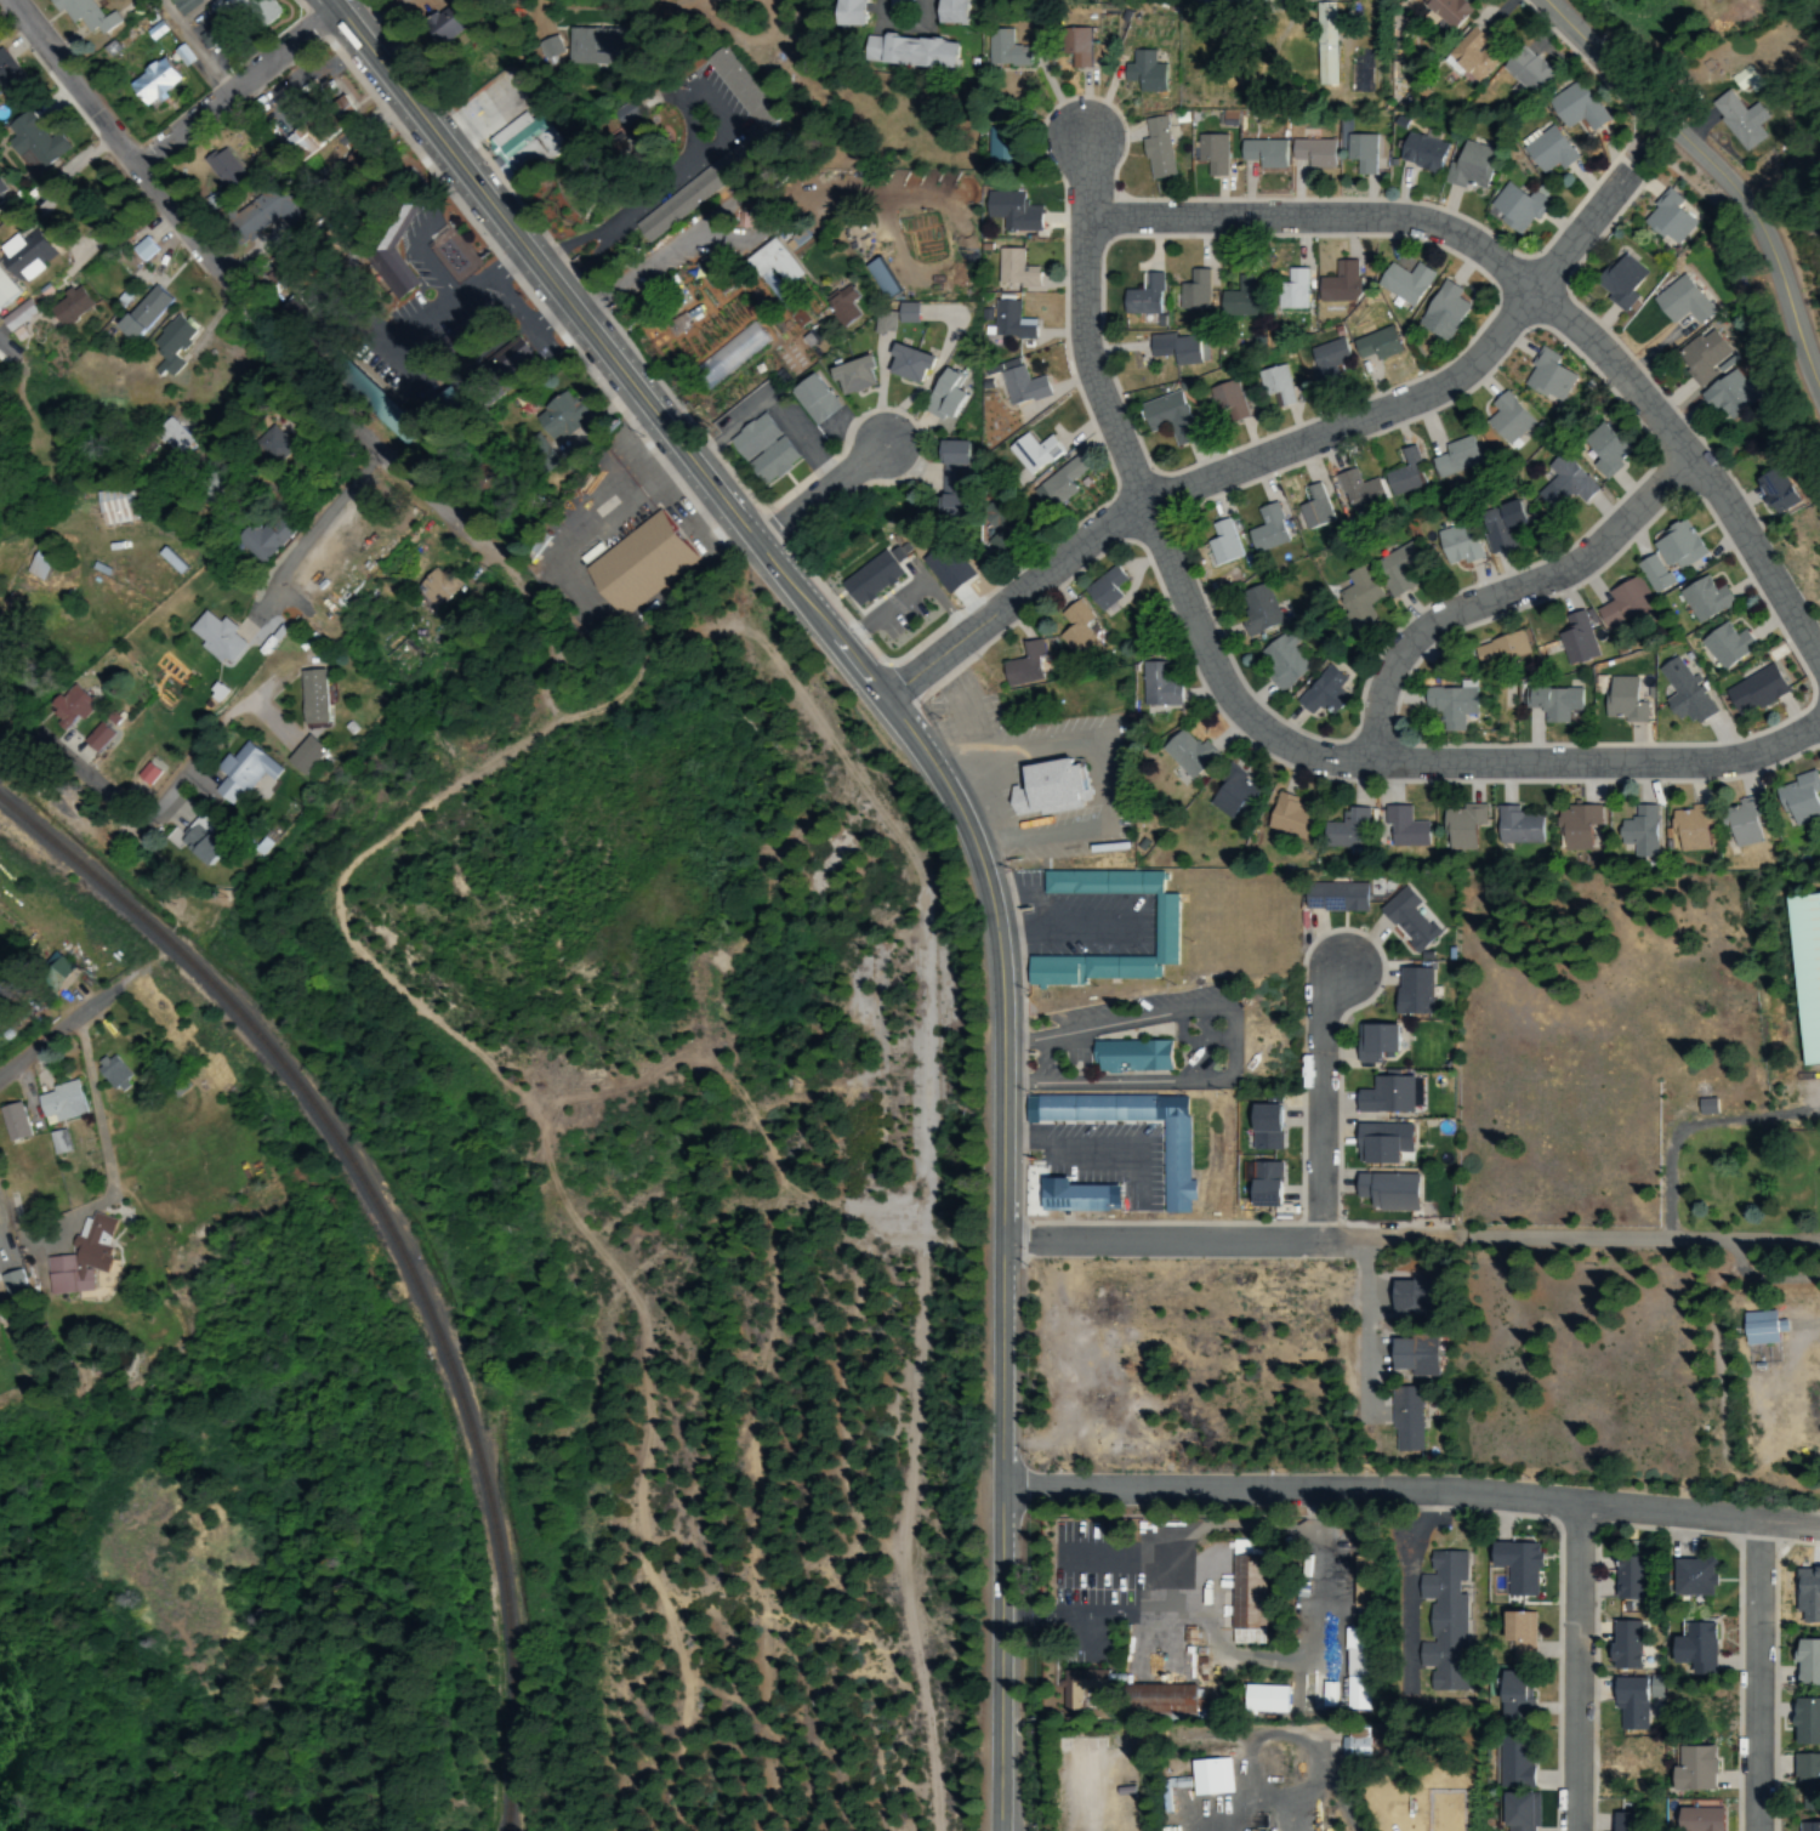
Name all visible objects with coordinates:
building: (1249, 1)
building: (180, 4)
building: (851, 6)
building: (897, 6)
building: (234, 8)
building: (1454, 11)
building: (956, 12)
building: (81, 16)
building: (442, 25)
building: (205, 36)
building: (551, 47)
building: (590, 47)
building: (1076, 49)
building: (1325, 50)
building: (1002, 51)
building: (910, 52)
building: (1474, 55)
building: (1142, 73)
building: (1526, 76)
building: (153, 81)
building: (11, 87)
road: (237, 90)
building: (341, 108)
building: (1575, 108)
building: (626, 114)
building: (1739, 119)
building: (306, 140)
building: (521, 144)
building: (33, 146)
building: (1154, 150)
building: (1547, 150)
building: (1359, 152)
building: (1261, 153)
building: (1313, 153)
building: (1423, 153)
building: (1208, 154)
building: (1473, 164)
building: (221, 171)
road: (1719, 174)
road: (1077, 177)
building: (703, 181)
building: (1, 194)
building: (1511, 207)
building: (1009, 210)
building: (255, 215)
building: (1662, 220)
building: (143, 249)
building: (24, 251)
building: (389, 256)
building: (1008, 268)
building: (767, 271)
building: (882, 278)
road: (232, 280)
building: (1611, 280)
building: (1403, 284)
building: (1335, 286)
building: (6, 291)
building: (1190, 291)
building: (1287, 291)
road: (1529, 291)
building: (1139, 296)
building: (1236, 297)
building: (1670, 303)
building: (834, 305)
building: (69, 306)
building: (1439, 312)
building: (144, 313)
building: (906, 313)
building: (16, 319)
building: (684, 320)
building: (1005, 320)
building: (883, 323)
building: (166, 345)
building: (1370, 346)
building: (1175, 348)
building: (724, 349)
building: (1690, 357)
building: (511, 359)
building: (1321, 362)
building: (904, 364)
building: (851, 375)
building: (1537, 376)
building: (1268, 385)
building: (1016, 387)
building: (939, 394)
building: (1716, 398)
building: (809, 399)
building: (1221, 402)
road: (76, 408)
building: (1162, 416)
building: (1498, 417)
building: (559, 425)
building: (167, 437)
building: (272, 445)
building: (756, 447)
building: (1593, 448)
building: (1026, 451)
road: (1272, 455)
building: (1445, 456)
building: (1395, 471)
building: (948, 477)
building: (1553, 482)
building: (1056, 484)
building: (1765, 488)
building: (1349, 490)
road: (829, 494)
building: (112, 506)
building: (1304, 507)
building: (997, 518)
building: (1258, 529)
building: (1498, 529)
building: (262, 538)
building: (1212, 540)
building: (1451, 545)
building: (1659, 555)
building: (171, 563)
building: (637, 563)
building: (34, 567)
building: (1390, 568)
building: (870, 579)
building: (438, 586)
building: (1096, 587)
building: (1352, 587)
road: (720, 590)
road: (1507, 596)
building: (1696, 598)
building: (1616, 604)
building: (1246, 609)
building: (1068, 632)
building: (215, 637)
building: (1568, 643)
building: (1721, 643)
building: (1491, 653)
building: (1025, 660)
building: (1273, 663)
road: (1818, 664)
building: (1150, 684)
building: (1751, 689)
building: (1318, 692)
building: (1678, 692)
building: (311, 696)
building: (1617, 699)
building: (1548, 703)
building: (66, 705)
building: (1444, 707)
road: (1269, 730)
building: (97, 737)
building: (303, 755)
building: (1183, 755)
road: (66, 762)
building: (240, 772)
building: (147, 773)
building: (1046, 787)
building: (1228, 796)
building: (1795, 801)
road: (952, 808)
building: (1287, 818)
building: (1739, 821)
building: (1514, 826)
building: (1400, 828)
building: (1461, 828)
building: (1575, 828)
building: (1346, 829)
building: (1689, 829)
building: (1637, 831)
building: (200, 841)
building: (1332, 897)
building: (1404, 919)
building: (1162, 925)
building: (55, 971)
building: (1808, 971)
building: (1409, 991)
road: (56, 1030)
building: (1378, 1041)
building: (1128, 1057)
building: (113, 1071)
building: (1381, 1096)
building: (61, 1102)
road: (1315, 1109)
building: (13, 1121)
building: (1268, 1128)
building: (59, 1142)
building: (1380, 1143)
building: (1170, 1166)
building: (1266, 1184)
building: (1386, 1190)
building: (1079, 1196)
road: (1632, 1239)
road: (1222, 1244)
railway: (396, 1247)
building: (80, 1258)
building: (11, 1283)
building: (1409, 1293)
building: (1765, 1327)
building: (1415, 1354)
building: (1405, 1420)
road: (1410, 1491)
building: (1518, 1566)
building: (1697, 1577)
building: (1631, 1579)
building: (1241, 1592)
building: (1439, 1621)
building: (1518, 1638)
building: (1625, 1644)
building: (1699, 1648)
building: (1354, 1651)
building: (1808, 1662)
road: (1586, 1667)
road: (1768, 1677)
building: (1080, 1687)
building: (1329, 1694)
building: (1343, 1695)
building: (1514, 1695)
building: (1159, 1699)
building: (1268, 1699)
building: (1627, 1704)
building: (1808, 1722)
building: (1357, 1744)
building: (1519, 1762)
building: (1697, 1768)
building: (1809, 1773)
building: (1212, 1776)
road: (1349, 1793)
building: (1524, 1812)
building: (1704, 1819)
building: (1623, 1821)
road: (1006, 1823)
building: (1810, 1826)

